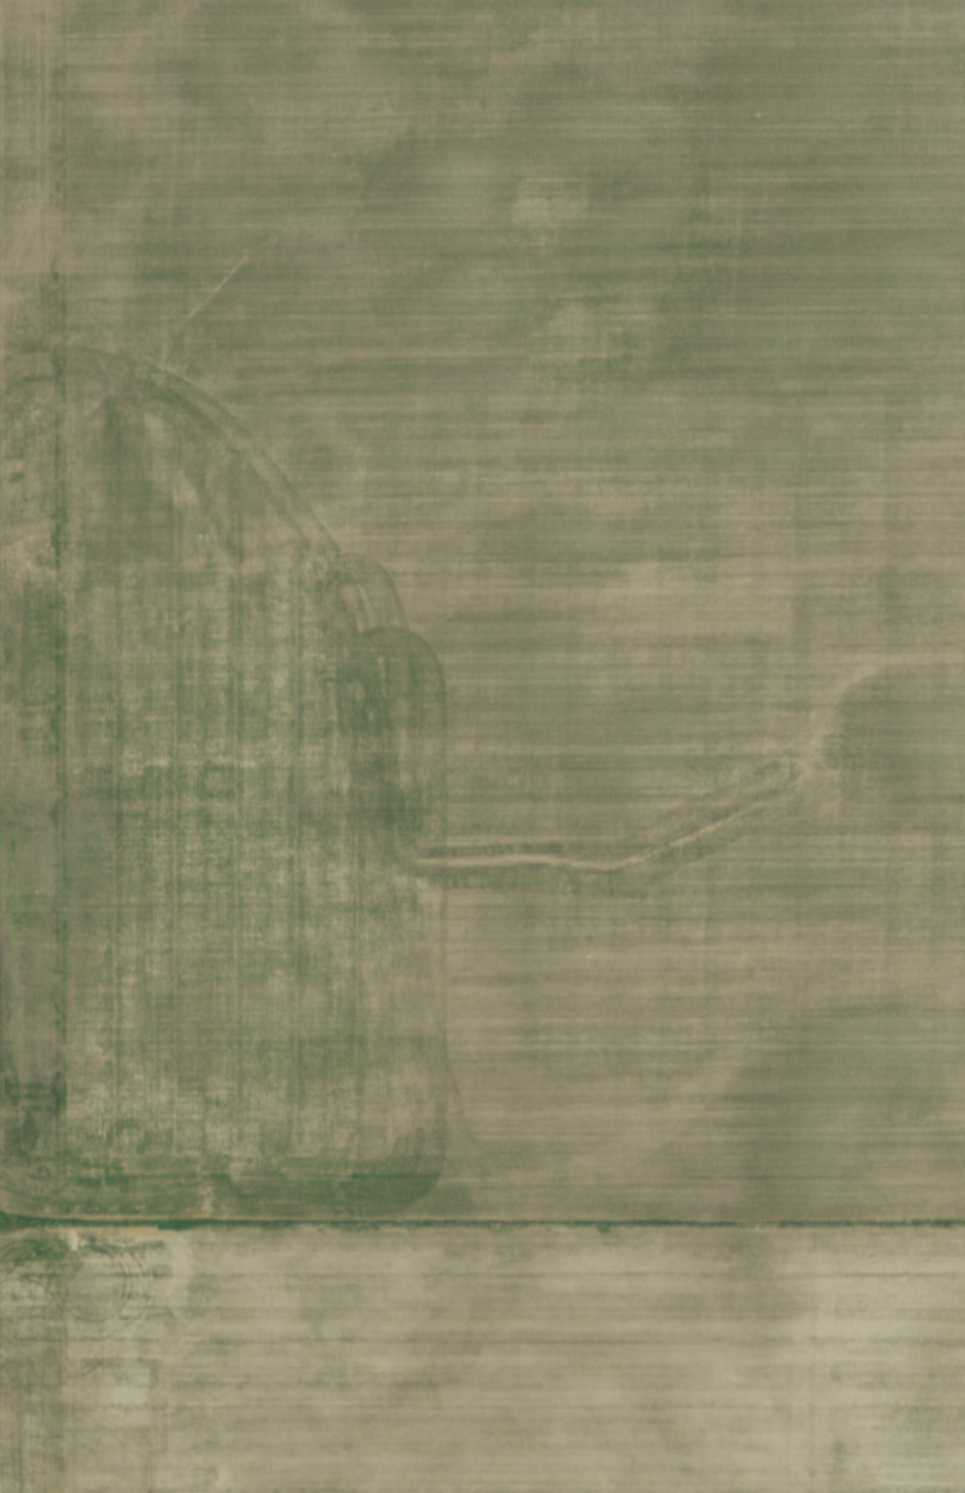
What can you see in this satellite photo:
road: (482, 1225)

